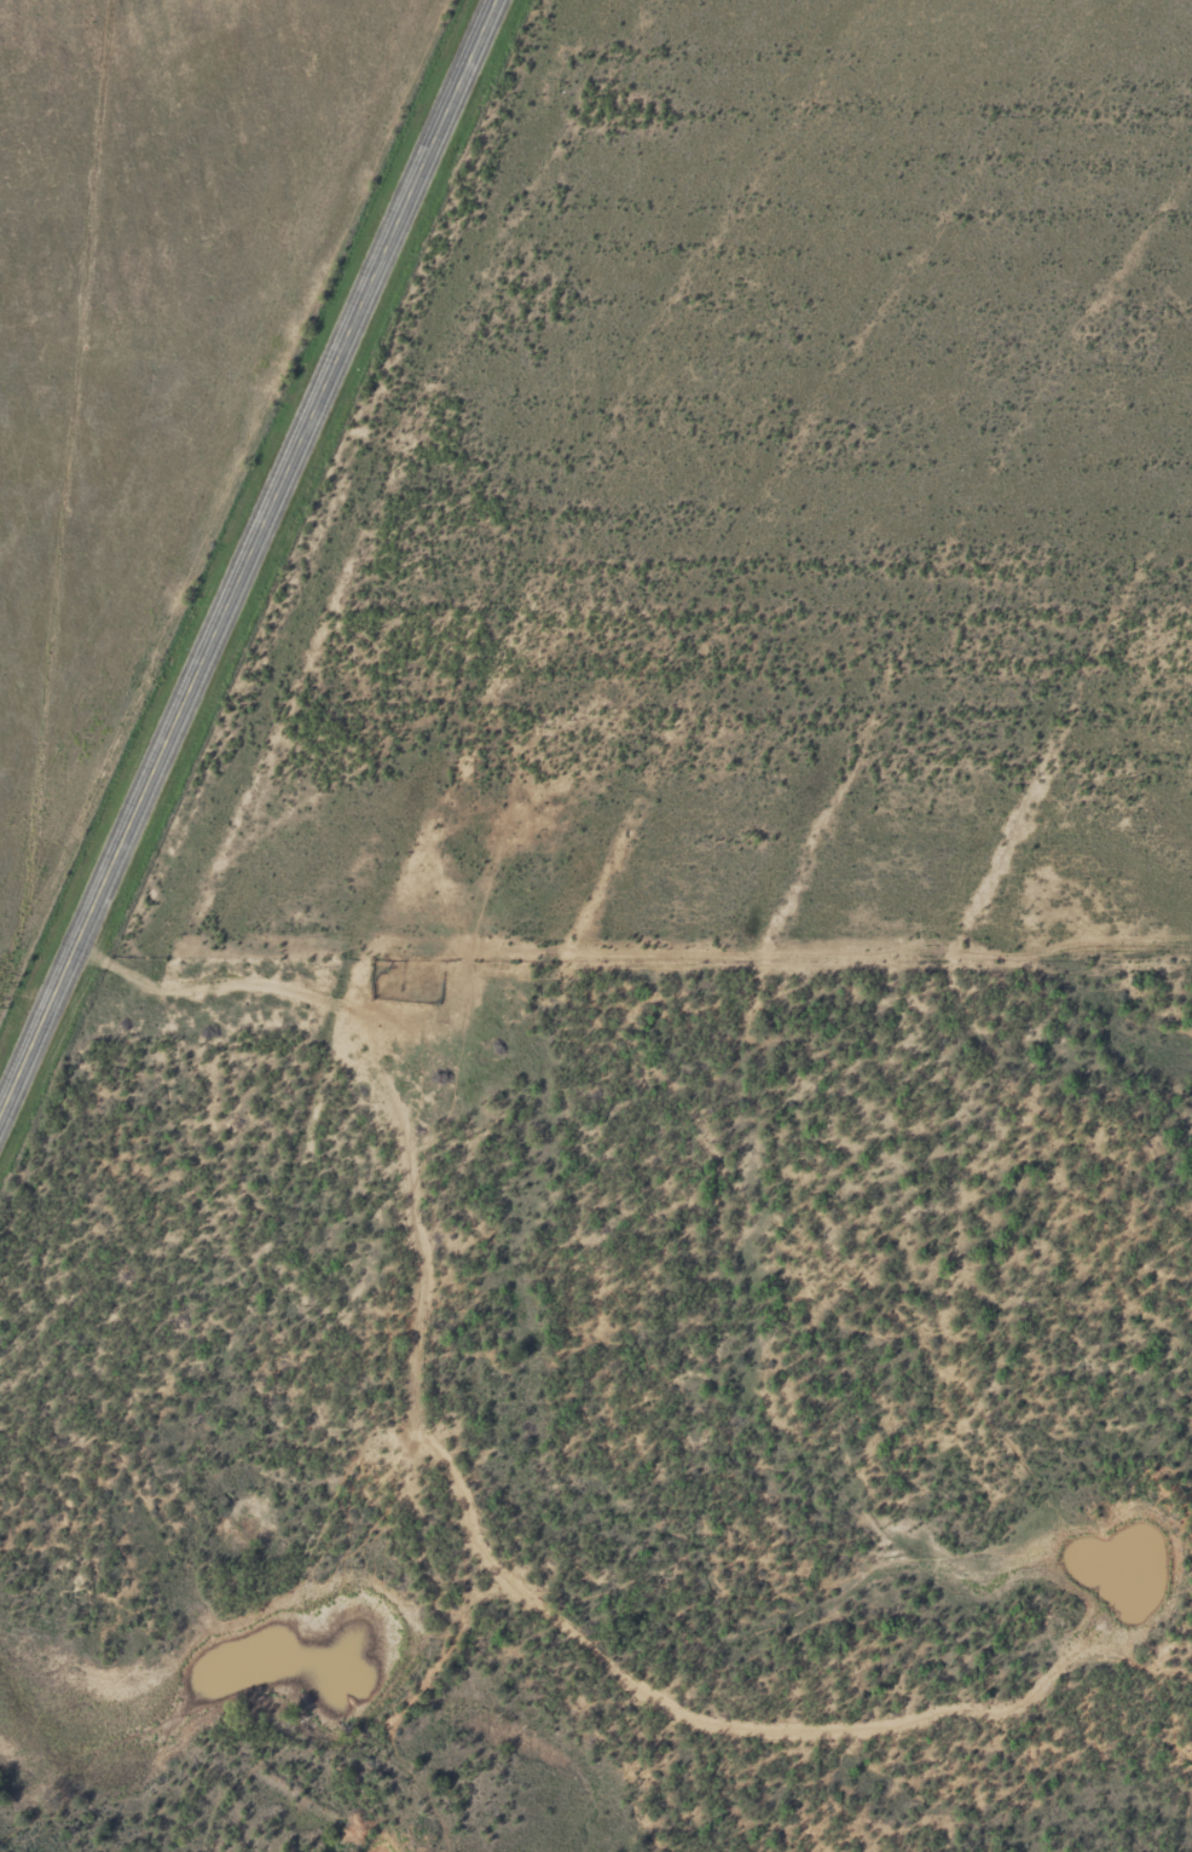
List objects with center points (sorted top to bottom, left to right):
road: (251, 567)
road: (630, 996)

